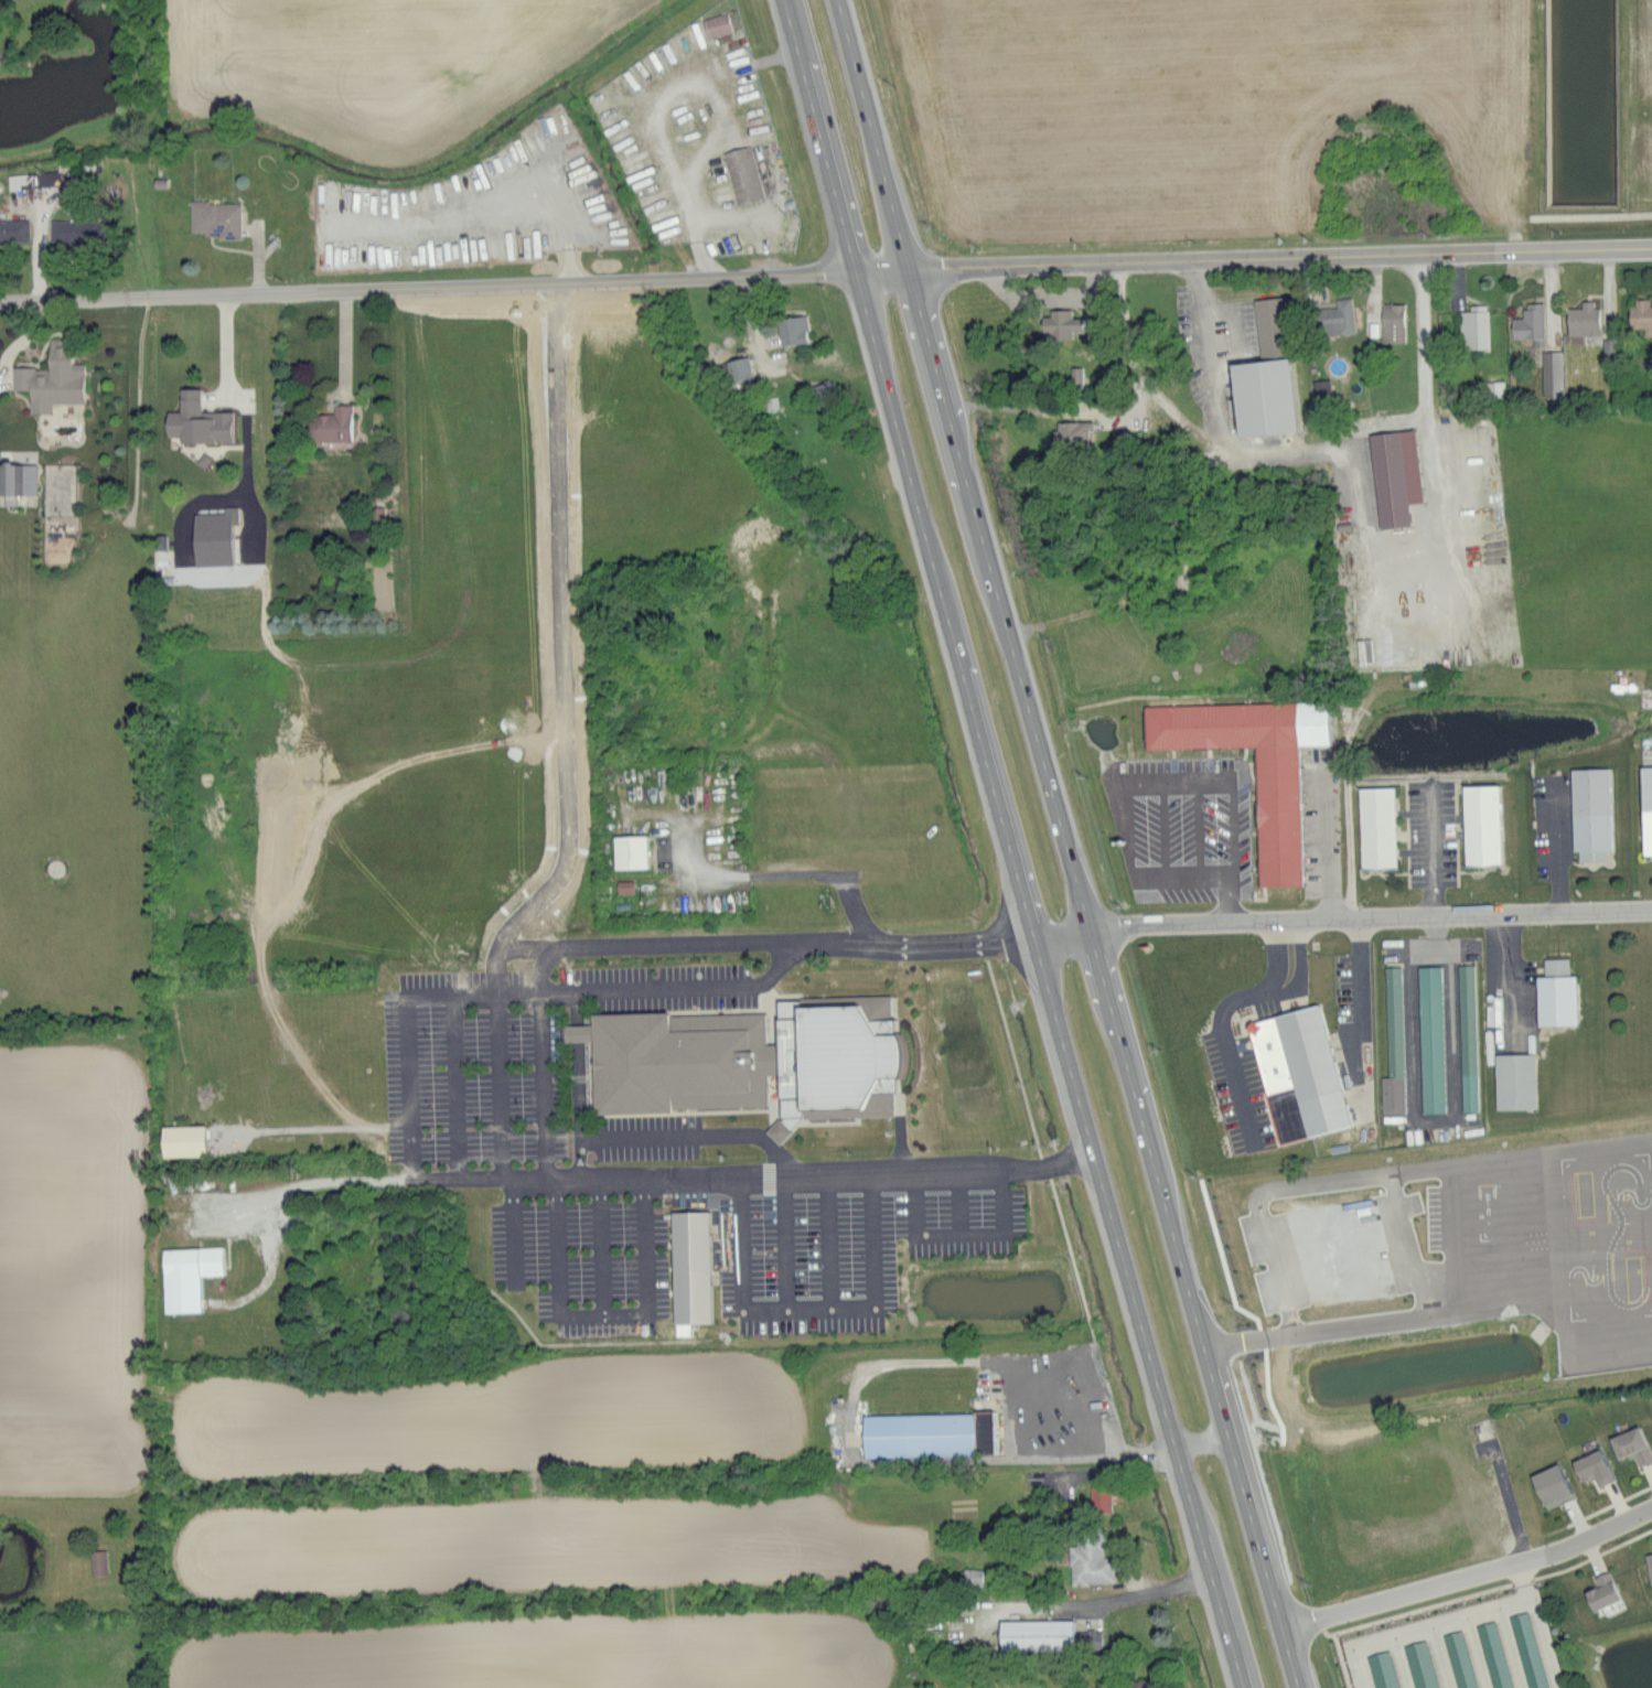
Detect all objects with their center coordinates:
building: (720, 26)
road: (769, 62)
crop: (1193, 118)
building: (747, 176)
building: (34, 179)
building: (222, 222)
building: (13, 229)
building: (64, 230)
road: (915, 271)
road: (1047, 291)
road: (89, 300)
road: (750, 315)
building: (1641, 315)
building: (1335, 318)
building: (1583, 319)
building: (1392, 322)
building: (1528, 323)
building: (1059, 324)
building: (1473, 326)
building: (792, 330)
road: (345, 342)
road: (20, 345)
building: (738, 368)
building: (1552, 373)
building: (1074, 376)
building: (51, 378)
building: (1493, 388)
building: (1279, 402)
road: (240, 405)
road: (1109, 407)
building: (196, 421)
building: (330, 424)
building: (1072, 433)
building: (17, 479)
building: (1396, 483)
building: (211, 525)
road: (1365, 530)
road: (567, 651)
parking lot: (1650, 793)
road: (1229, 799)
building: (1599, 813)
building: (1286, 821)
parking lot: (1323, 824)
parking lot: (1184, 827)
parking lot: (1555, 827)
building: (1651, 829)
building: (1490, 830)
road: (1168, 832)
road: (1198, 832)
building: (1384, 832)
parking lot: (1435, 835)
road: (1327, 842)
road: (1069, 843)
road: (1010, 845)
building: (629, 850)
road: (1558, 851)
road: (808, 870)
road: (1137, 875)
road: (1436, 875)
road: (1343, 920)
road: (954, 934)
road: (690, 939)
road: (527, 947)
road: (779, 961)
road: (1278, 961)
road: (1508, 972)
road: (1302, 974)
road: (647, 986)
parking lot: (1515, 997)
building: (1566, 998)
road: (1365, 1000)
road: (410, 1020)
parking lot: (1361, 1036)
building: (1474, 1041)
parking lot: (1445, 1042)
building: (1438, 1043)
parking lot: (1252, 1050)
building: (1401, 1051)
road: (1231, 1063)
building: (683, 1065)
building: (1308, 1079)
road: (544, 1083)
road: (498, 1084)
road: (453, 1085)
building: (1524, 1086)
road: (1433, 1130)
road: (755, 1132)
road: (642, 1133)
building: (181, 1139)
road: (578, 1157)
road: (701, 1174)
road: (511, 1228)
building: (967, 1228)
road: (962, 1229)
building: (834, 1234)
road: (826, 1238)
road: (783, 1239)
road: (599, 1245)
building: (699, 1272)
building: (195, 1281)
road: (806, 1305)
road: (601, 1313)
road: (1331, 1362)
road: (1101, 1428)
building: (937, 1440)
road: (1201, 1443)
building: (1632, 1444)
building: (1592, 1466)
building: (1552, 1485)
building: (1099, 1497)
building: (1090, 1557)
building: (97, 1561)
building: (1649, 1565)
road: (1468, 1574)
building: (972, 1576)
building: (1602, 1590)
road: (1146, 1593)
road: (1470, 1614)
building: (1036, 1634)
building: (1093, 1637)
building: (1528, 1649)
building: (1497, 1654)
building: (1460, 1659)
building: (1425, 1664)
building: (1383, 1669)
building: (1134, 1684)

